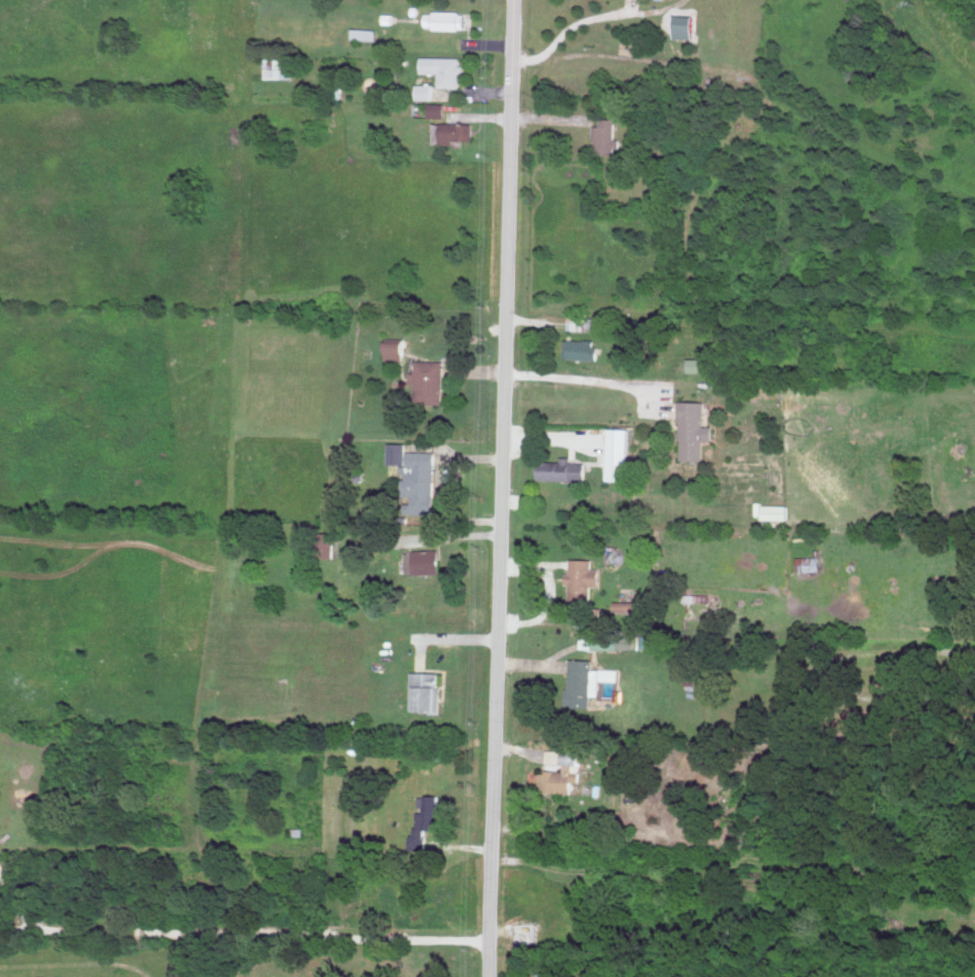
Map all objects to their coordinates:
building: (446, 19)
road: (581, 22)
building: (686, 25)
building: (364, 32)
building: (278, 67)
building: (444, 69)
building: (424, 90)
building: (436, 110)
building: (455, 131)
building: (608, 135)
building: (582, 348)
building: (395, 349)
building: (703, 364)
building: (428, 381)
road: (595, 381)
building: (695, 429)
building: (617, 453)
building: (562, 469)
building: (415, 476)
road: (502, 488)
building: (775, 511)
building: (328, 543)
building: (423, 560)
building: (583, 578)
building: (626, 605)
road: (444, 639)
building: (593, 640)
building: (646, 641)
building: (587, 681)
building: (694, 682)
building: (426, 690)
building: (562, 771)
building: (427, 818)
road: (230, 933)
building: (551, 973)

